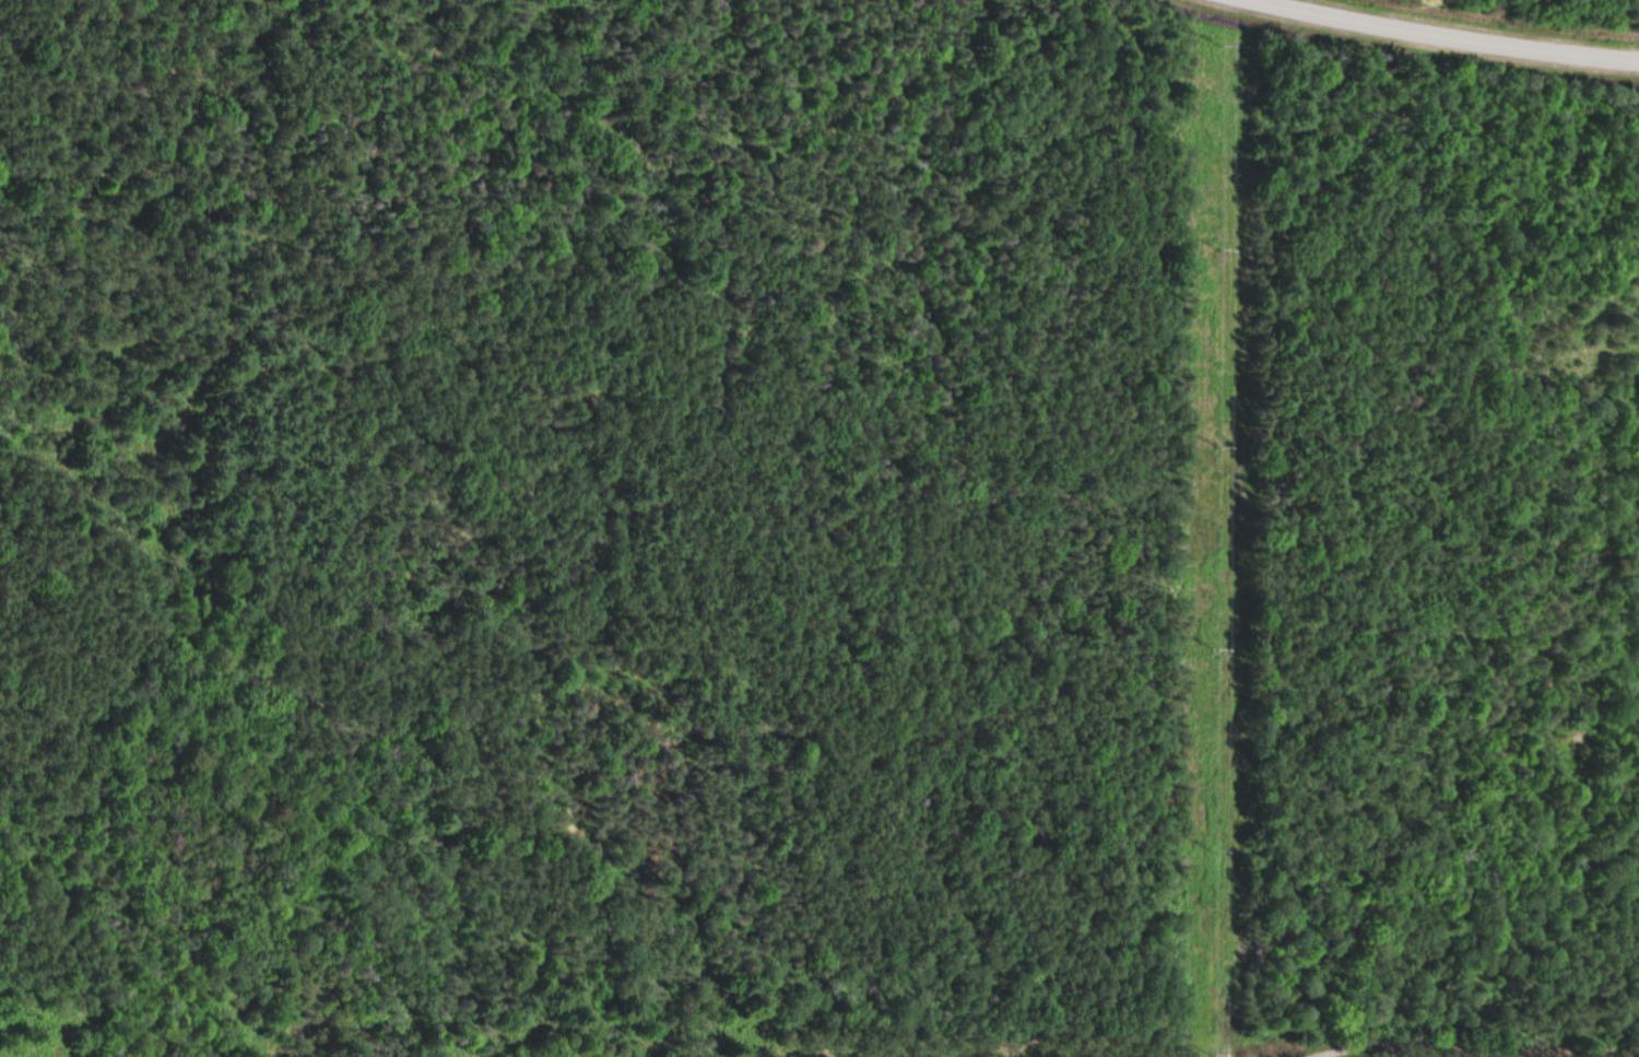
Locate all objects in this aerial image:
road: (1442, 36)

